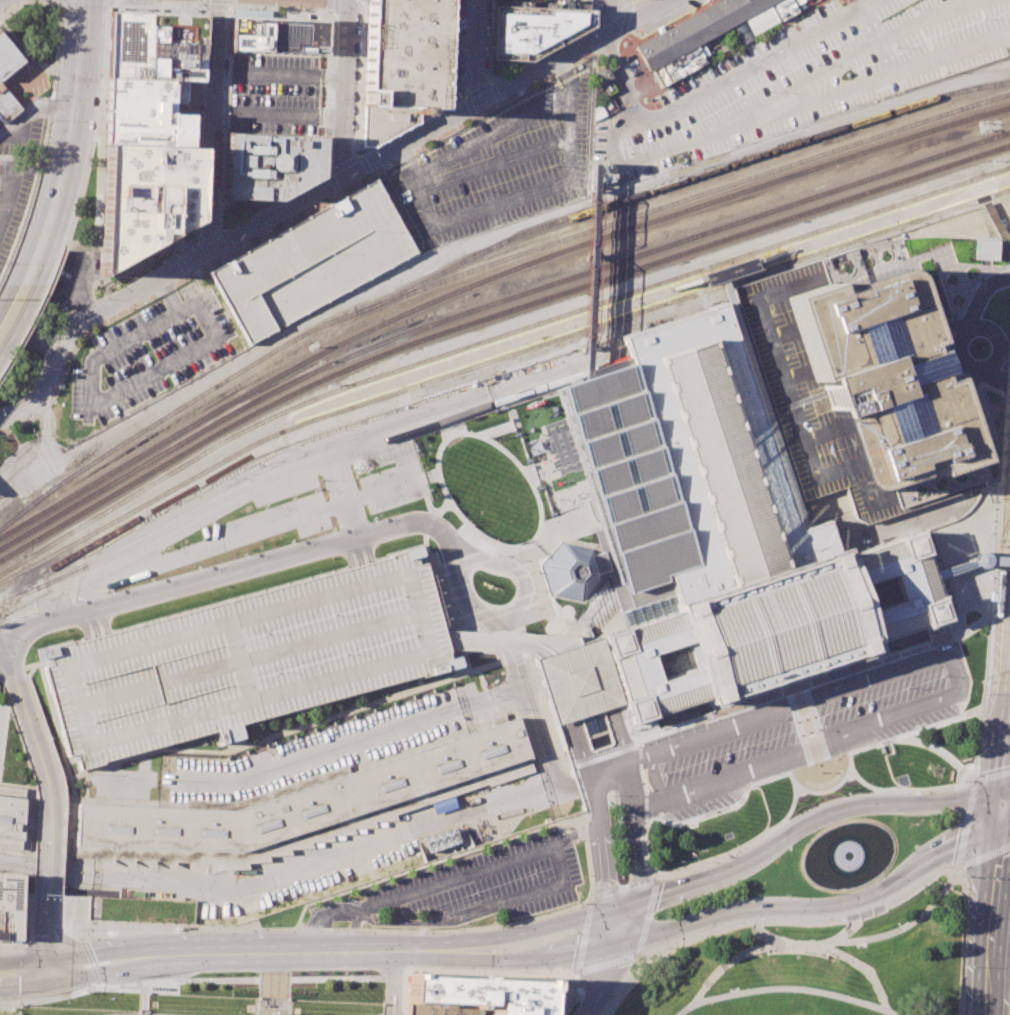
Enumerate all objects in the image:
road: (333, 0)
road: (24, 1)
road: (55, 1)
road: (25, 2)
street lamp: (117, 3)
road: (637, 3)
road: (110, 4)
road: (206, 4)
road: (157, 6)
street lamp: (196, 7)
road: (217, 7)
road: (334, 7)
street lamp: (912, 8)
road: (281, 11)
street lamp: (321, 12)
street lamp: (107, 13)
street lamp: (229, 14)
road: (612, 14)
road: (613, 15)
parking lot: (666, 17)
street lamp: (983, 18)
street lamp: (207, 19)
building: (760, 19)
road: (805, 20)
road: (625, 21)
street lamp: (362, 23)
road: (806, 27)
street lamp: (337, 28)
building: (534, 30)
road: (811, 30)
street lamp: (589, 34)
building: (697, 35)
road: (874, 35)
building: (280, 37)
road: (594, 39)
road: (766, 42)
road: (606, 46)
street lamp: (894, 47)
building: (155, 48)
road: (555, 48)
road: (767, 48)
road: (751, 50)
street lamp: (361, 51)
road: (476, 51)
road: (773, 52)
street lamp: (1008, 53)
road: (752, 56)
building: (9, 58)
street lamp: (229, 58)
street lamp: (596, 58)
road: (758, 60)
building: (402, 66)
street lamp: (944, 71)
road: (619, 75)
street lamp: (205, 76)
street lamp: (360, 77)
street lamp: (506, 77)
parking lot: (799, 77)
road: (875, 77)
street lamp: (541, 79)
street lamp: (228, 81)
road: (360, 82)
road: (484, 87)
road: (347, 88)
street lamp: (523, 89)
road: (52, 91)
road: (331, 94)
parking lot: (277, 96)
road: (74, 98)
street lamp: (333, 98)
street lamp: (227, 103)
street lamp: (359, 103)
street lamp: (836, 103)
building: (7, 104)
street lamp: (493, 106)
road: (470, 107)
road: (32, 108)
chimney: (409, 108)
road: (589, 109)
street lamp: (480, 112)
building: (147, 114)
street lamp: (440, 115)
street lamp: (47, 119)
road: (214, 125)
road: (413, 127)
street lamp: (453, 128)
road: (94, 130)
street lamp: (357, 130)
street lamp: (221, 134)
street lamp: (436, 138)
street lamp: (418, 147)
road: (365, 149)
street lamp: (377, 150)
street lamp: (201, 154)
street lamp: (221, 154)
street lamp: (333, 156)
road: (641, 159)
street lamp: (1009, 160)
helipad: (273, 162)
building: (271, 164)
road: (344, 164)
road: (365, 165)
street lamp: (383, 169)
building: (596, 175)
street lamp: (220, 179)
railway: (676, 181)
street lamp: (1001, 182)
road: (97, 183)
road: (332, 183)
street lamp: (358, 184)
road: (324, 188)
railway: (921, 191)
street lamp: (334, 196)
street lamp: (81, 198)
building: (146, 200)
road: (275, 202)
street lamp: (279, 202)
road: (250, 206)
street lamp: (318, 206)
road: (9, 209)
street lamp: (221, 217)
street lamp: (295, 218)
street lamp: (201, 221)
street lamp: (876, 225)
road: (19, 229)
road: (961, 231)
street lamp: (265, 234)
railway: (862, 237)
road: (210, 239)
road: (227, 241)
street lamp: (245, 245)
building: (981, 249)
street lamp: (186, 254)
street lamp: (1006, 256)
road: (214, 259)
building: (315, 262)
parking lot: (315, 262)
street lamp: (4, 263)
road: (32, 264)
railway: (483, 265)
street lamp: (193, 274)
parking lot: (78, 277)
railway: (486, 278)
road: (974, 282)
road: (581, 284)
road: (79, 291)
road: (168, 294)
street lamp: (149, 298)
street lamp: (108, 299)
railway: (489, 303)
street lamp: (128, 309)
road: (81, 310)
road: (34, 314)
railway: (489, 315)
street lamp: (107, 321)
street lamp: (196, 325)
road: (967, 328)
road: (958, 334)
railway: (490, 338)
road: (30, 343)
street lamp: (149, 352)
parking lot: (148, 354)
street lamp: (43, 364)
road: (778, 367)
street lamp: (5, 368)
building: (877, 377)
street lamp: (102, 380)
road: (122, 389)
street lamp: (1003, 398)
road: (970, 402)
building: (808, 405)
parking garage: (808, 405)
street lamp: (1, 408)
railway: (346, 408)
railway: (291, 414)
road: (9, 416)
road: (517, 421)
road: (493, 429)
street lamp: (487, 437)
railway: (322, 447)
road: (438, 450)
road: (367, 452)
railway: (1004, 455)
road: (558, 456)
railway: (307, 465)
street lamp: (365, 473)
parking lot: (386, 475)
road: (525, 475)
street lamp: (535, 486)
street lamp: (426, 488)
street lamp: (314, 490)
road: (446, 500)
road: (451, 500)
road: (226, 503)
road: (535, 503)
street lamp: (264, 506)
road: (433, 512)
street lamp: (372, 518)
street lamp: (466, 519)
street lamp: (542, 521)
parking lot: (269, 523)
railway: (1002, 523)
street lamp: (210, 524)
road: (428, 524)
road: (994, 527)
street lamp: (331, 529)
road: (560, 530)
road: (251, 532)
road: (362, 536)
street lamp: (493, 539)
street lamp: (290, 541)
building: (712, 541)
road: (367, 548)
street lamp: (161, 551)
road: (529, 551)
street lamp: (243, 554)
road: (346, 554)
street lamp: (495, 555)
street lamp: (513, 560)
road: (970, 562)
street lamp: (197, 566)
railway: (993, 568)
road: (515, 570)
building: (573, 570)
street lamp: (527, 571)
street lamp: (150, 579)
street lamp: (532, 589)
street lamp: (109, 591)
road: (533, 600)
street lamp: (72, 601)
railway: (995, 603)
road: (972, 606)
street lamp: (526, 608)
street lamp: (29, 612)
road: (953, 612)
road: (449, 619)
road: (103, 622)
road: (86, 627)
road: (468, 636)
road: (505, 636)
road: (534, 637)
street lamp: (924, 641)
road: (525, 651)
road: (559, 651)
road: (512, 655)
street lamp: (876, 657)
building: (245, 659)
parking lot: (248, 659)
road: (572, 661)
road: (5, 662)
road: (876, 663)
road: (953, 670)
street lamp: (485, 674)
road: (837, 675)
street lamp: (941, 676)
road: (479, 678)
street lamp: (985, 681)
street lamp: (905, 688)
road: (497, 689)
road: (499, 696)
road: (485, 697)
street lamp: (401, 701)
street lamp: (864, 701)
road: (797, 702)
road: (750, 704)
street lamp: (708, 712)
parking lot: (1, 716)
street lamp: (8, 717)
road: (746, 721)
street lamp: (960, 722)
road: (938, 723)
road: (27, 725)
road: (294, 727)
street lamp: (324, 727)
street lamp: (660, 728)
parking lot: (794, 731)
street lamp: (927, 732)
road: (807, 733)
road: (616, 735)
street lamp: (978, 742)
road: (579, 746)
parking lot: (330, 747)
street lamp: (742, 747)
road: (813, 747)
street lamp: (880, 747)
street lamp: (254, 750)
road: (326, 750)
road: (631, 750)
road: (165, 751)
road: (850, 751)
street lamp: (174, 756)
road: (1007, 758)
road: (567, 759)
street lamp: (704, 760)
road: (618, 762)
road: (763, 762)
street lamp: (128, 763)
street lamp: (663, 773)
road: (991, 775)
road: (650, 777)
street lamp: (893, 777)
road: (841, 778)
street lamp: (936, 780)
road: (623, 787)
street lamp: (752, 788)
road: (899, 789)
road: (825, 790)
road: (1007, 791)
road: (566, 792)
traffic signals: (1005, 792)
street lamp: (609, 794)
building: (307, 799)
road: (953, 801)
road: (645, 804)
road: (1003, 810)
street lamp: (950, 813)
building: (9, 817)
street lamp: (862, 817)
street lamp: (904, 817)
road: (645, 821)
street lamp: (764, 823)
street lamp: (947, 824)
road: (964, 824)
railway: (989, 826)
road: (1005, 828)
traffic signals: (1001, 829)
road: (48, 833)
street lamp: (814, 833)
street lamp: (579, 839)
building: (441, 840)
road: (599, 841)
railway: (978, 842)
street lamp: (730, 847)
flagpole: (701, 850)
street lamp: (910, 850)
road: (761, 855)
flagpole: (689, 856)
fountain: (850, 856)
road: (982, 857)
street lamp: (778, 858)
street lamp: (697, 859)
road: (433, 861)
flagpole: (678, 861)
road: (494, 862)
road: (632, 862)
street lamp: (662, 869)
road: (678, 871)
road: (281, 872)
street lamp: (533, 872)
street lamp: (961, 875)
street lamp: (881, 876)
road: (656, 877)
parking lot: (489, 882)
street lamp: (585, 884)
road: (654, 885)
street lamp: (732, 885)
street lamp: (475, 891)
street lamp: (834, 893)
street lamp: (786, 894)
road: (589, 896)
street lamp: (735, 897)
road: (503, 903)
road: (372, 904)
building: (11, 907)
traffic signals: (619, 908)
road: (815, 908)
road: (395, 911)
street lamp: (659, 911)
street lamp: (416, 915)
road: (320, 917)
street lamp: (662, 918)
road: (770, 920)
road: (995, 921)
road: (377, 922)
road: (906, 925)
road: (617, 927)
street lamp: (79, 928)
street lamp: (256, 928)
street lamp: (341, 928)
road: (347, 928)
street lamp: (171, 930)
road: (383, 930)
road: (526, 931)
road: (849, 931)
road: (354, 932)
road: (362, 932)
street lamp: (562, 933)
road: (27, 934)
road: (46, 934)
road: (583, 934)
road: (82, 938)
street lamp: (86, 938)
road: (964, 940)
street lamp: (16, 947)
traffic signals: (616, 947)
road: (825, 948)
road: (215, 953)
road: (646, 956)
road: (735, 957)
road: (524, 959)
road: (90, 961)
park: (813, 963)
road: (606, 964)
street lamp: (964, 966)
road: (635, 967)
road: (1001, 969)
traffic signals: (54, 970)
street lamp: (341, 971)
road: (470, 971)
street lamp: (254, 972)
railway: (1007, 975)
street lamp: (171, 979)
road: (184, 981)
road: (606, 982)
street lamp: (626, 982)
road: (273, 983)
road: (98, 984)
road: (780, 988)
road: (577, 994)
building: (477, 997)
street lamp: (16, 1001)
road: (890, 1012)

